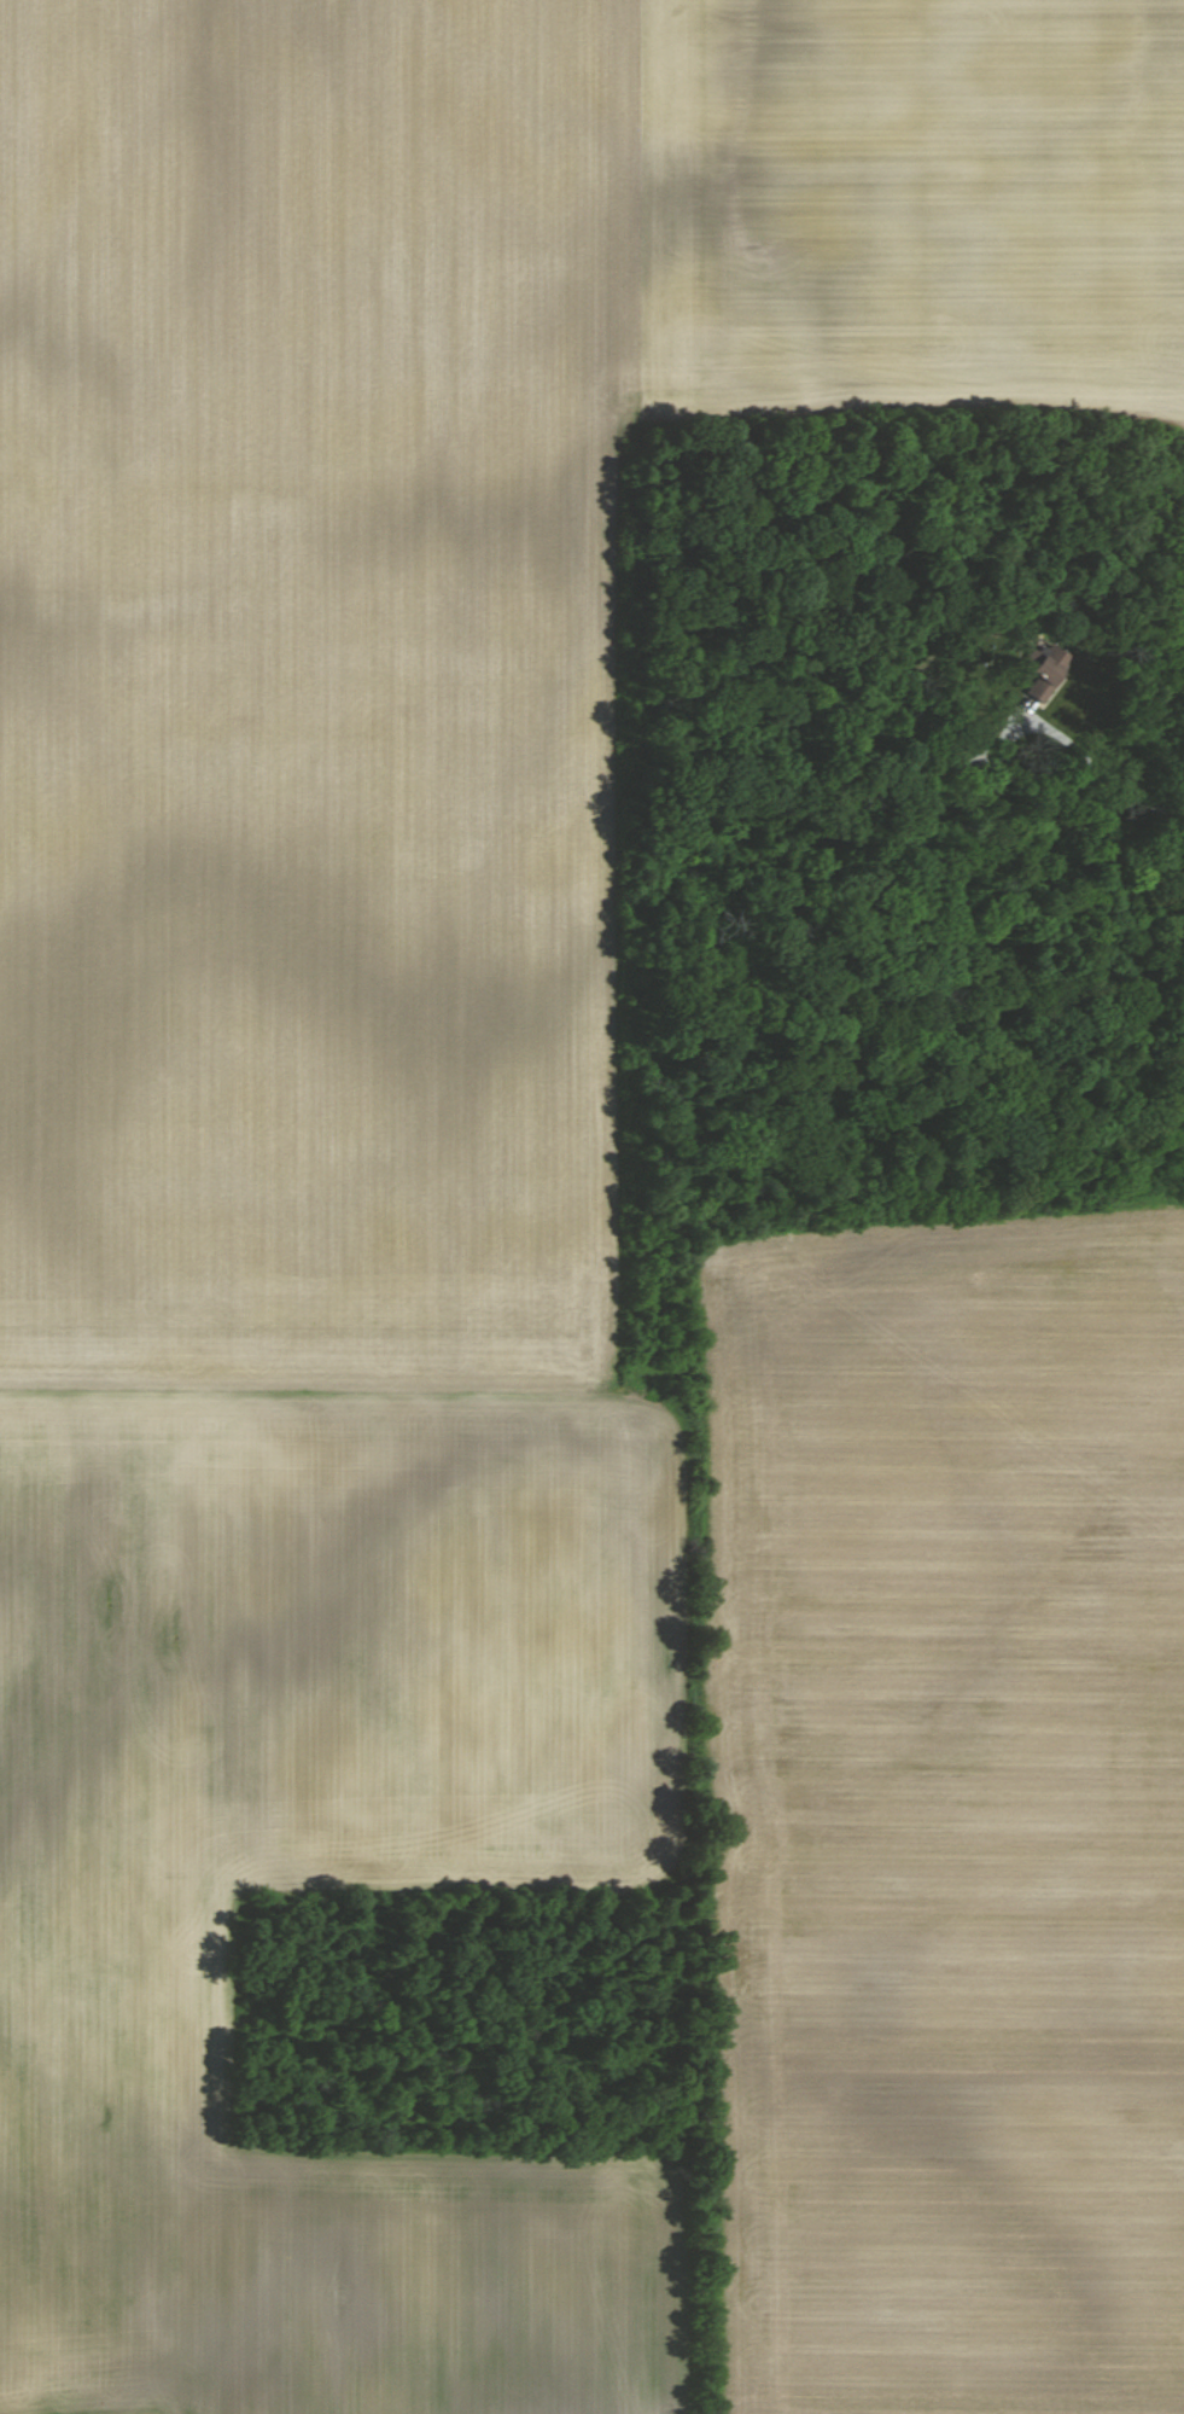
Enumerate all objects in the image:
road: (1126, 764)

